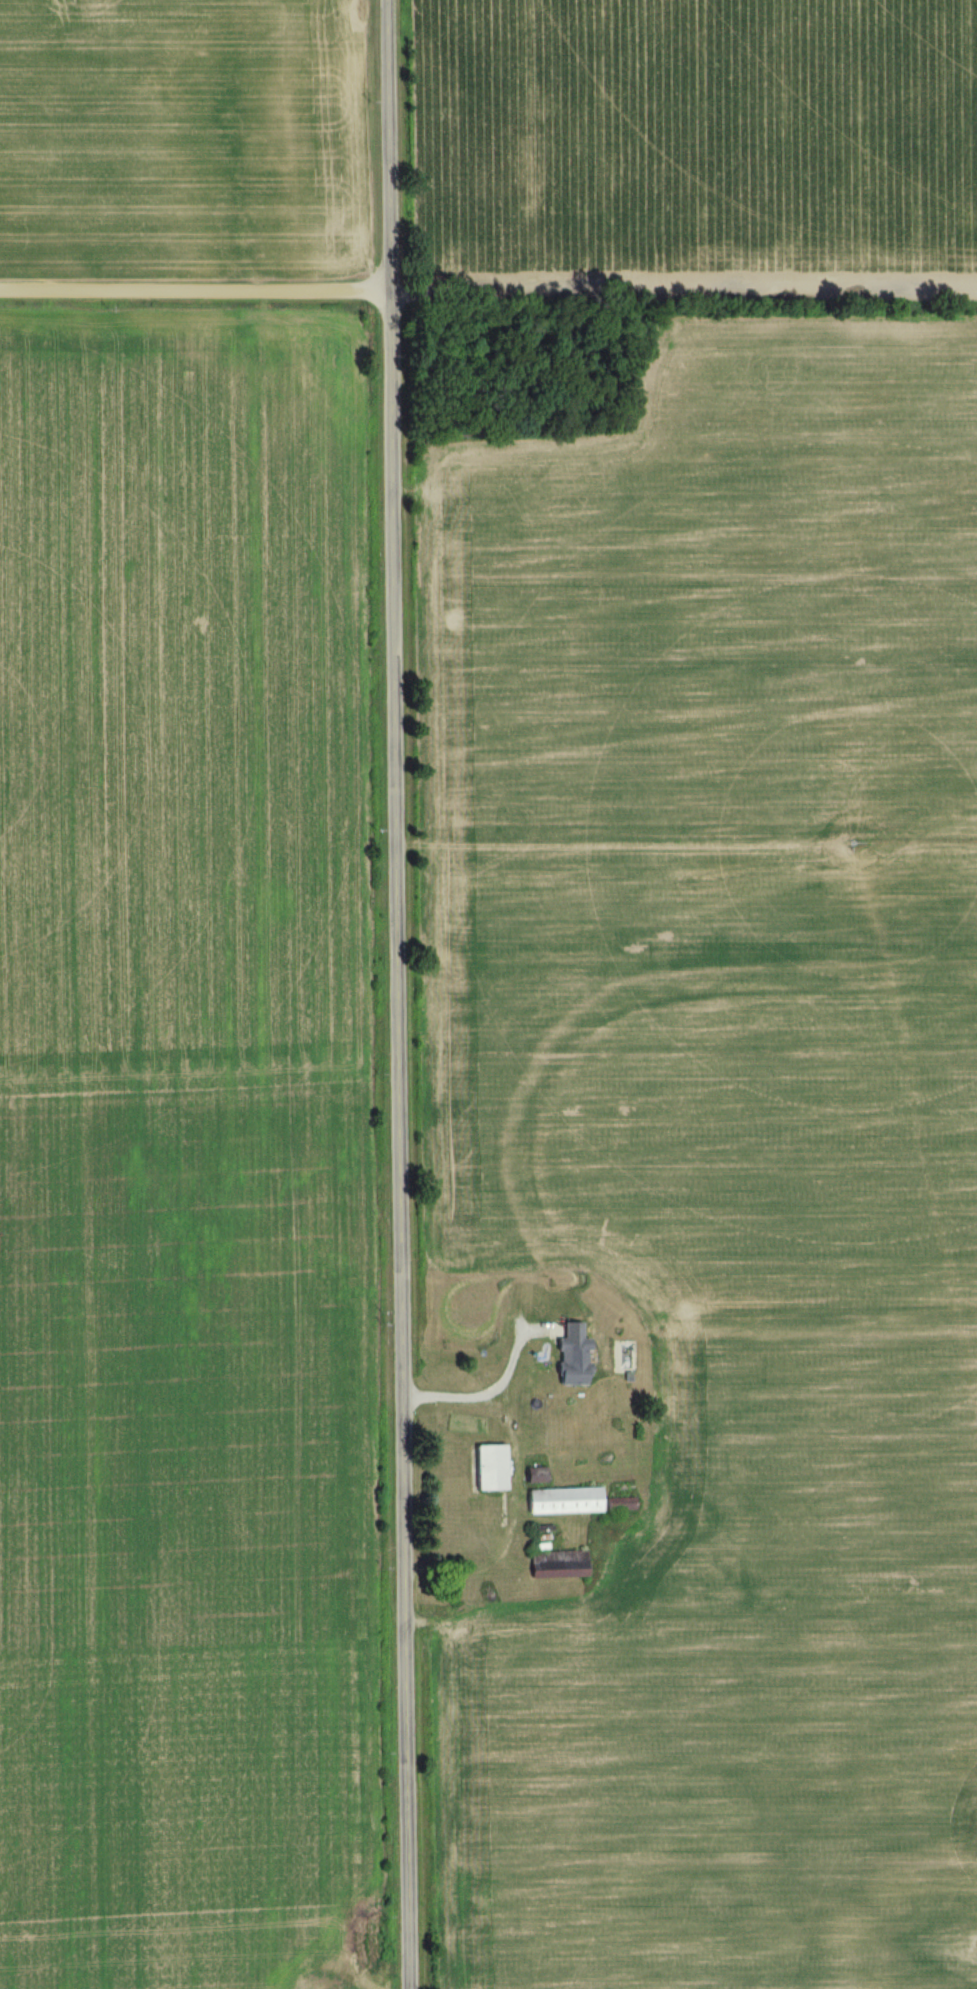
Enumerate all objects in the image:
crop: (698, 145)
crop: (179, 152)
road: (192, 283)
road: (393, 994)
crop: (182, 1148)
building: (568, 1362)
road: (489, 1397)
building: (484, 1469)
building: (559, 1502)
building: (553, 1566)

